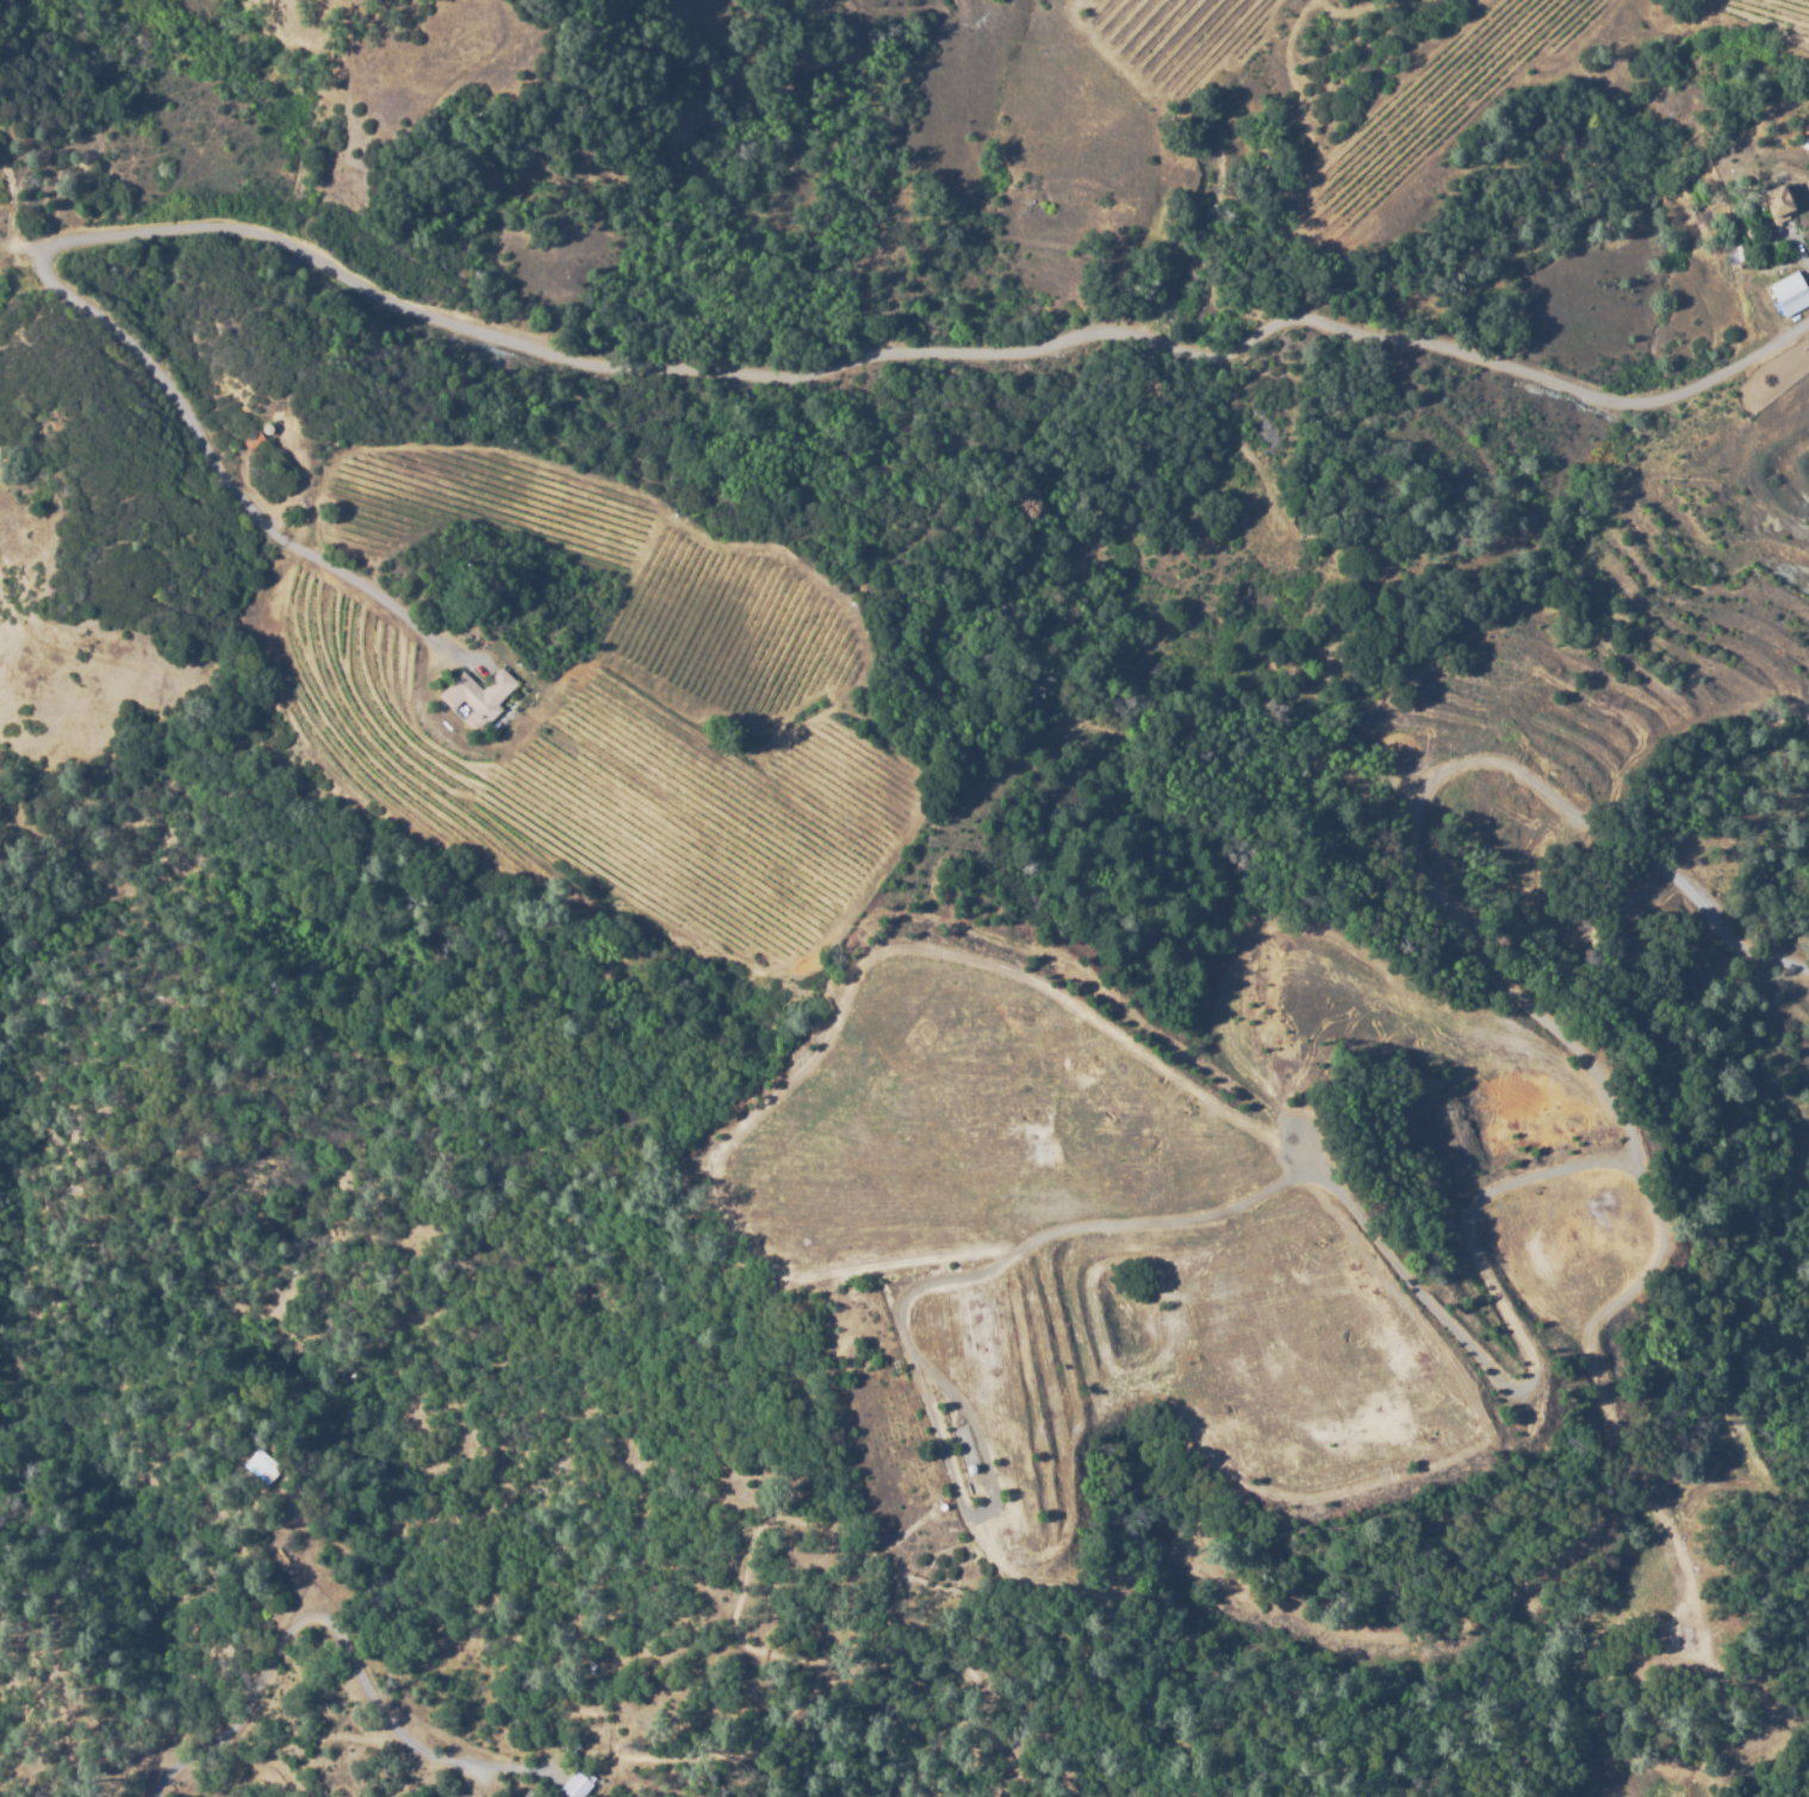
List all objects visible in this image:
building: (1805, 122)
building: (1777, 200)
building: (1788, 290)
road: (909, 353)
building: (266, 428)
building: (254, 441)
road: (228, 486)
building: (478, 697)
building: (969, 1467)
building: (939, 1506)
building: (576, 1785)
building: (530, 1793)

